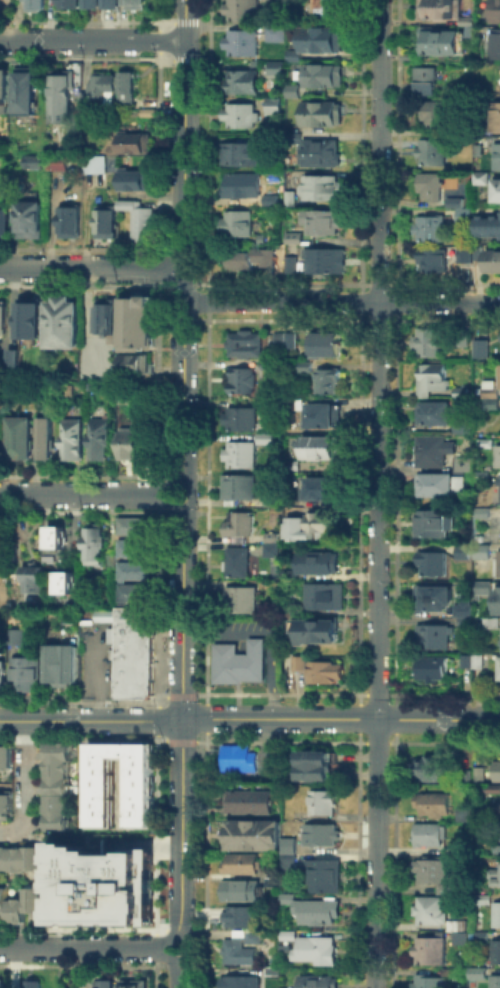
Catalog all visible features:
building: (71, 3)
building: (94, 4)
building: (114, 4)
building: (138, 4)
building: (1, 5)
building: (38, 5)
building: (328, 9)
building: (439, 9)
building: (495, 10)
building: (244, 11)
road: (185, 20)
building: (467, 21)
building: (278, 35)
building: (319, 37)
building: (442, 39)
road: (92, 41)
building: (496, 42)
building: (244, 44)
building: (407, 54)
building: (278, 69)
building: (327, 77)
building: (424, 79)
building: (244, 83)
building: (105, 87)
building: (5, 88)
building: (291, 88)
building: (130, 90)
building: (67, 93)
building: (29, 94)
building: (489, 94)
building: (276, 107)
building: (433, 111)
building: (151, 114)
building: (242, 115)
building: (324, 115)
building: (494, 115)
building: (480, 137)
building: (263, 140)
building: (294, 140)
building: (138, 144)
building: (430, 149)
building: (321, 154)
building: (497, 154)
building: (243, 156)
building: (36, 163)
building: (61, 163)
building: (97, 166)
building: (482, 176)
building: (140, 182)
building: (431, 183)
building: (244, 187)
building: (323, 189)
building: (497, 189)
building: (292, 196)
building: (455, 200)
building: (273, 201)
building: (131, 204)
building: (464, 212)
building: (34, 220)
building: (5, 222)
building: (323, 223)
building: (72, 224)
building: (144, 224)
building: (488, 224)
building: (108, 225)
building: (238, 226)
building: (430, 227)
building: (299, 240)
building: (477, 251)
building: (464, 253)
building: (432, 258)
building: (493, 259)
building: (253, 260)
road: (184, 262)
building: (329, 262)
building: (294, 265)
road: (91, 267)
road: (342, 303)
building: (33, 314)
building: (4, 319)
building: (109, 322)
building: (137, 322)
building: (67, 325)
building: (499, 338)
building: (284, 339)
building: (430, 343)
building: (247, 346)
building: (328, 346)
building: (484, 351)
building: (15, 357)
building: (140, 365)
building: (267, 365)
building: (306, 367)
building: (499, 368)
building: (433, 379)
building: (331, 382)
building: (245, 383)
building: (464, 394)
building: (132, 396)
building: (492, 397)
building: (271, 404)
building: (438, 413)
building: (327, 417)
building: (242, 421)
building: (464, 426)
building: (269, 439)
building: (1, 440)
building: (24, 440)
building: (50, 440)
building: (77, 441)
building: (103, 441)
building: (487, 443)
building: (133, 444)
building: (323, 448)
building: (434, 452)
building: (242, 456)
building: (499, 459)
building: (467, 465)
building: (295, 467)
building: (483, 478)
road: (179, 484)
building: (442, 487)
building: (241, 489)
building: (499, 489)
building: (324, 491)
road: (84, 493)
road: (378, 494)
building: (278, 503)
building: (484, 515)
building: (324, 523)
building: (137, 525)
building: (434, 525)
building: (298, 529)
building: (243, 530)
building: (55, 536)
building: (96, 544)
building: (276, 546)
building: (139, 549)
building: (465, 553)
building: (484, 553)
building: (498, 562)
building: (240, 564)
building: (435, 566)
building: (318, 567)
building: (138, 571)
building: (35, 581)
building: (64, 581)
building: (484, 586)
building: (137, 594)
building: (327, 598)
building: (435, 600)
building: (496, 600)
building: (243, 602)
building: (295, 611)
building: (467, 613)
building: (273, 615)
building: (493, 622)
building: (468, 624)
road: (268, 633)
building: (320, 633)
building: (18, 638)
building: (437, 638)
building: (135, 656)
building: (479, 660)
building: (298, 662)
building: (469, 662)
building: (243, 664)
building: (64, 667)
building: (499, 668)
building: (434, 670)
building: (323, 671)
building: (29, 676)
building: (2, 677)
road: (249, 718)
road: (182, 721)
building: (59, 754)
building: (6, 761)
building: (240, 763)
building: (316, 767)
building: (431, 770)
building: (498, 771)
building: (59, 772)
building: (481, 774)
building: (468, 778)
road: (26, 785)
building: (59, 789)
building: (102, 795)
building: (436, 804)
building: (7, 805)
building: (59, 805)
building: (250, 805)
building: (325, 806)
building: (467, 819)
building: (59, 824)
building: (431, 837)
building: (256, 839)
building: (324, 839)
building: (3, 861)
building: (15, 863)
building: (32, 863)
building: (244, 868)
building: (436, 872)
building: (495, 876)
building: (326, 878)
building: (100, 886)
building: (248, 895)
building: (3, 904)
building: (32, 904)
building: (435, 912)
building: (321, 915)
building: (15, 916)
building: (499, 917)
building: (245, 921)
building: (460, 925)
building: (292, 936)
road: (178, 937)
building: (256, 938)
building: (472, 938)
road: (83, 947)
building: (496, 950)
building: (435, 952)
building: (319, 953)
building: (241, 955)
road: (180, 974)
building: (482, 975)
building: (434, 982)
building: (320, 983)
building: (499, 983)
building: (242, 984)
building: (135, 985)
building: (105, 986)
building: (3, 987)
building: (34, 987)

